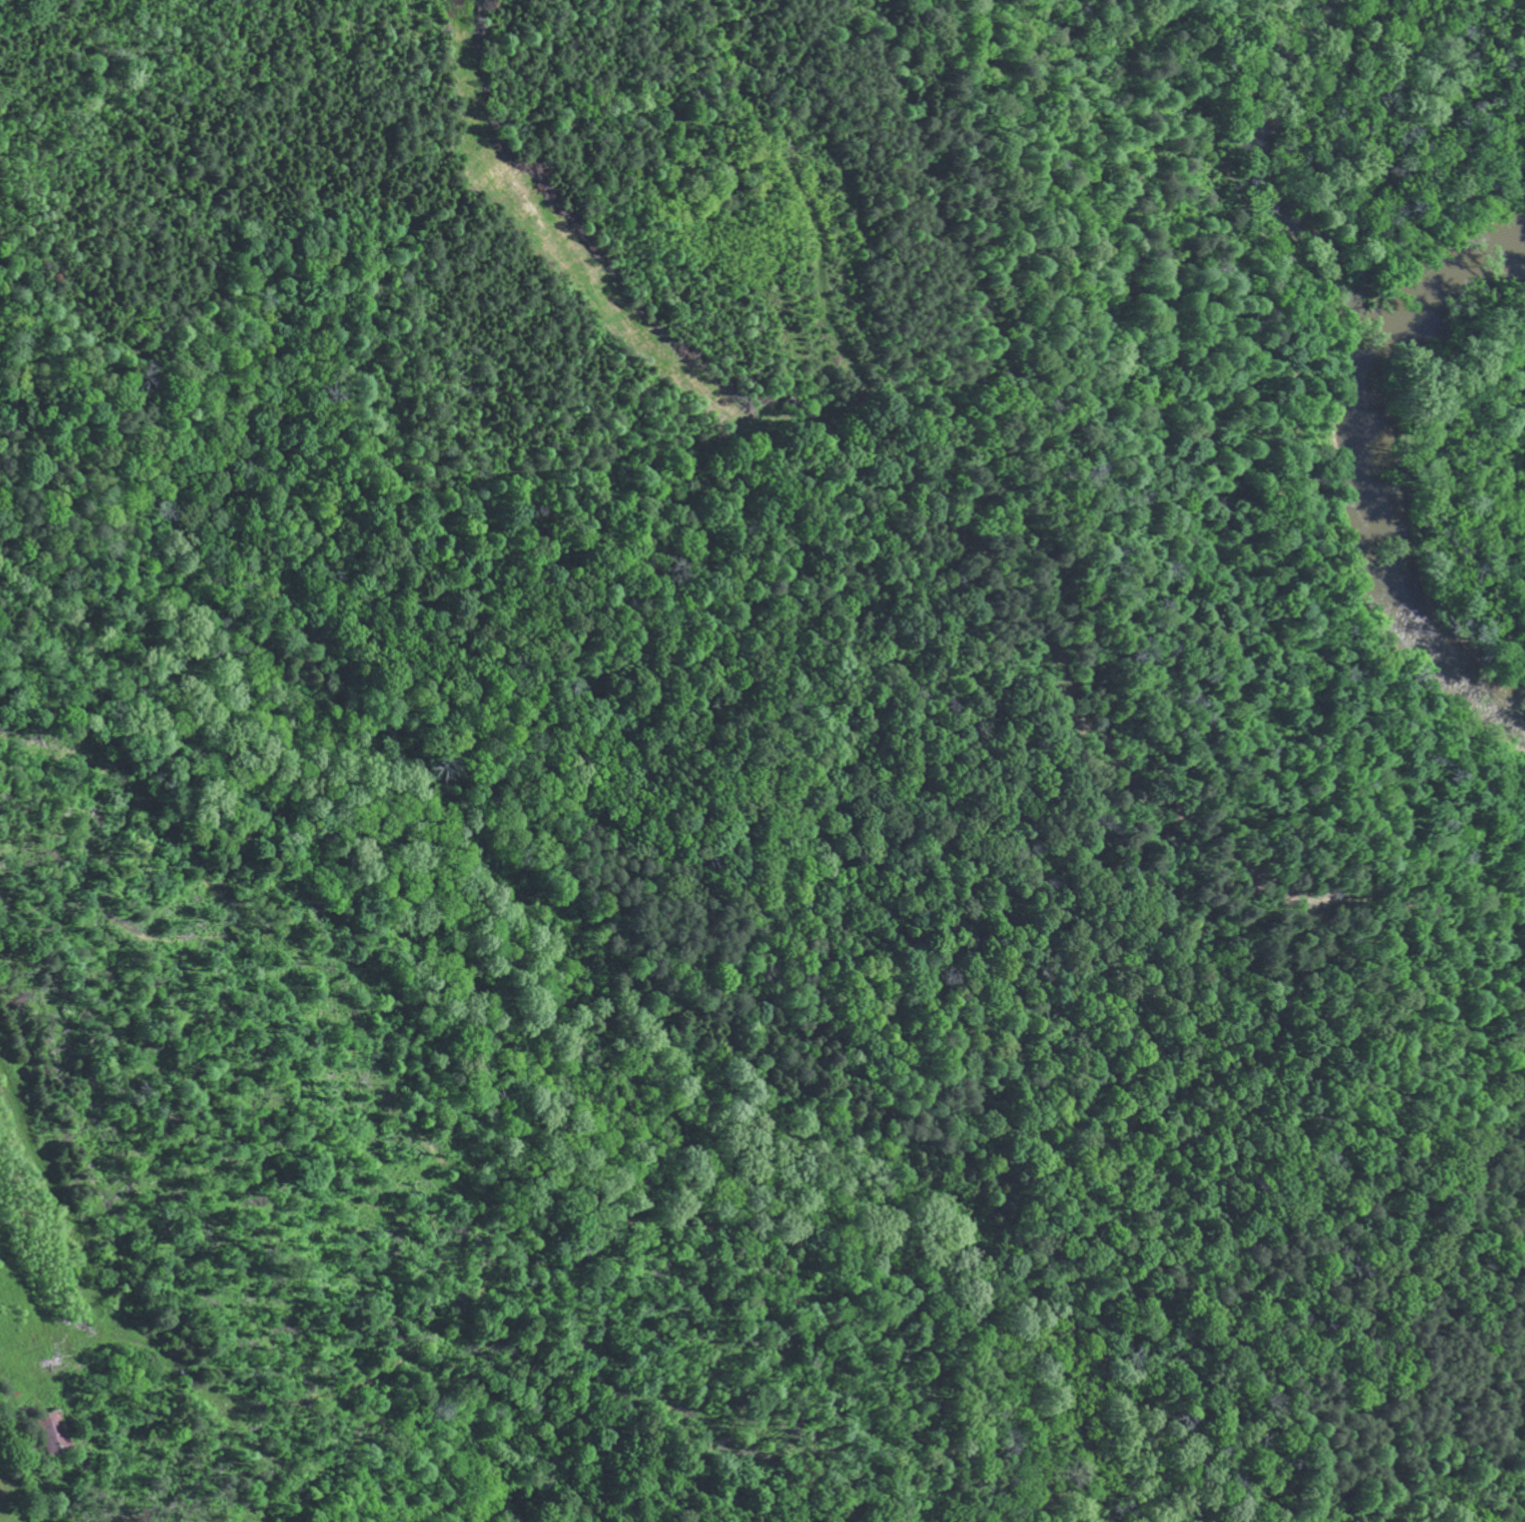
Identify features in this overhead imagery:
river: (1364, 467)

